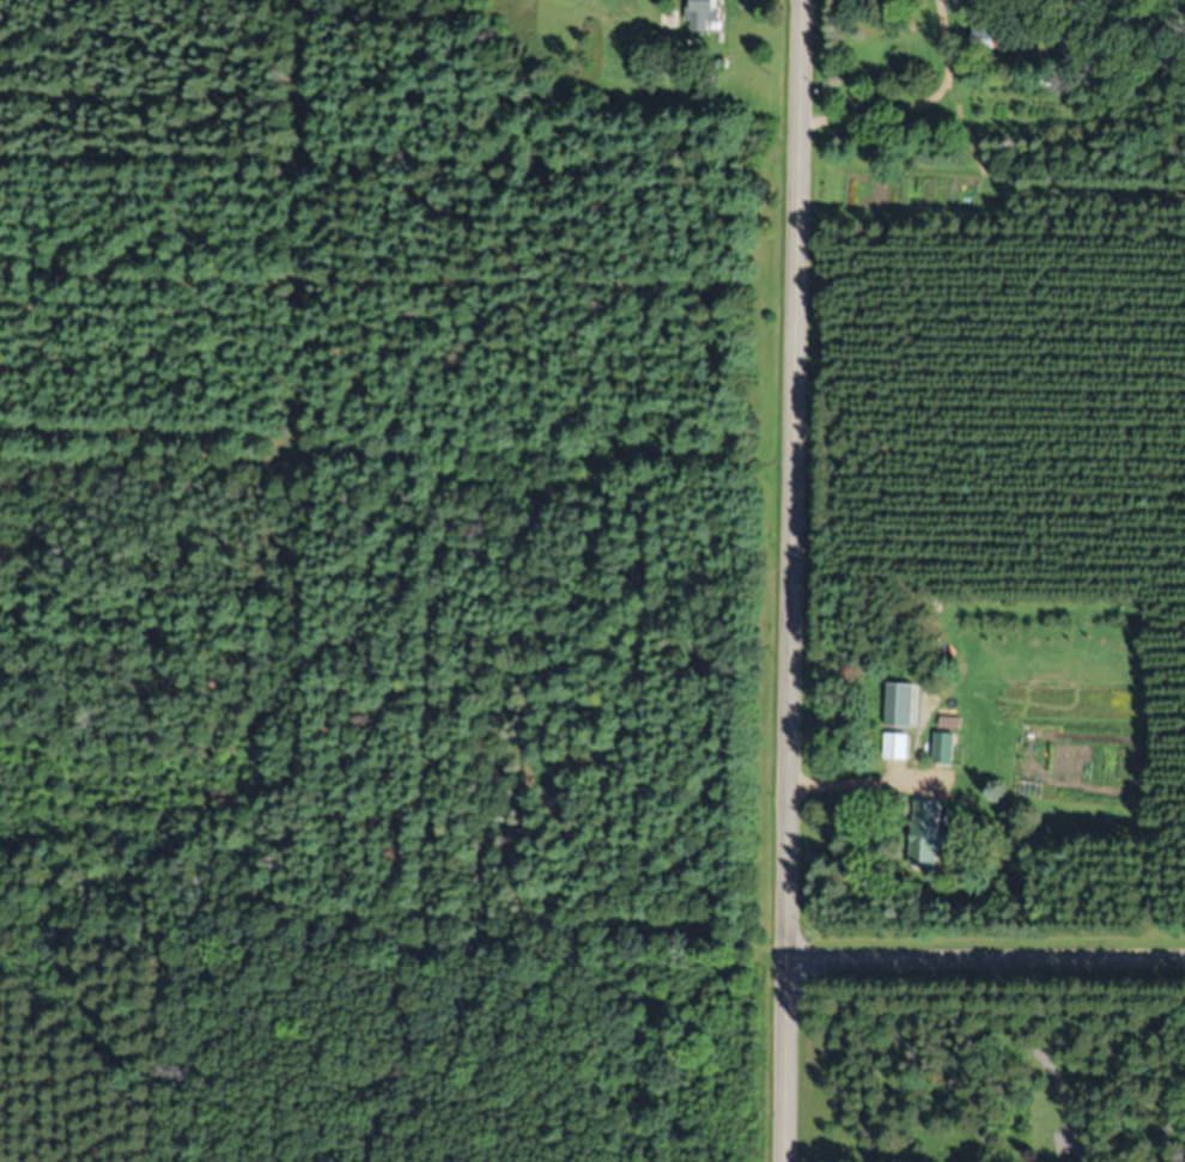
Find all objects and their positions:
building: (704, 14)
building: (986, 39)
building: (1069, 51)
road: (789, 580)
building: (901, 705)
building: (947, 723)
building: (897, 747)
building: (944, 748)
building: (928, 835)
road: (985, 953)

